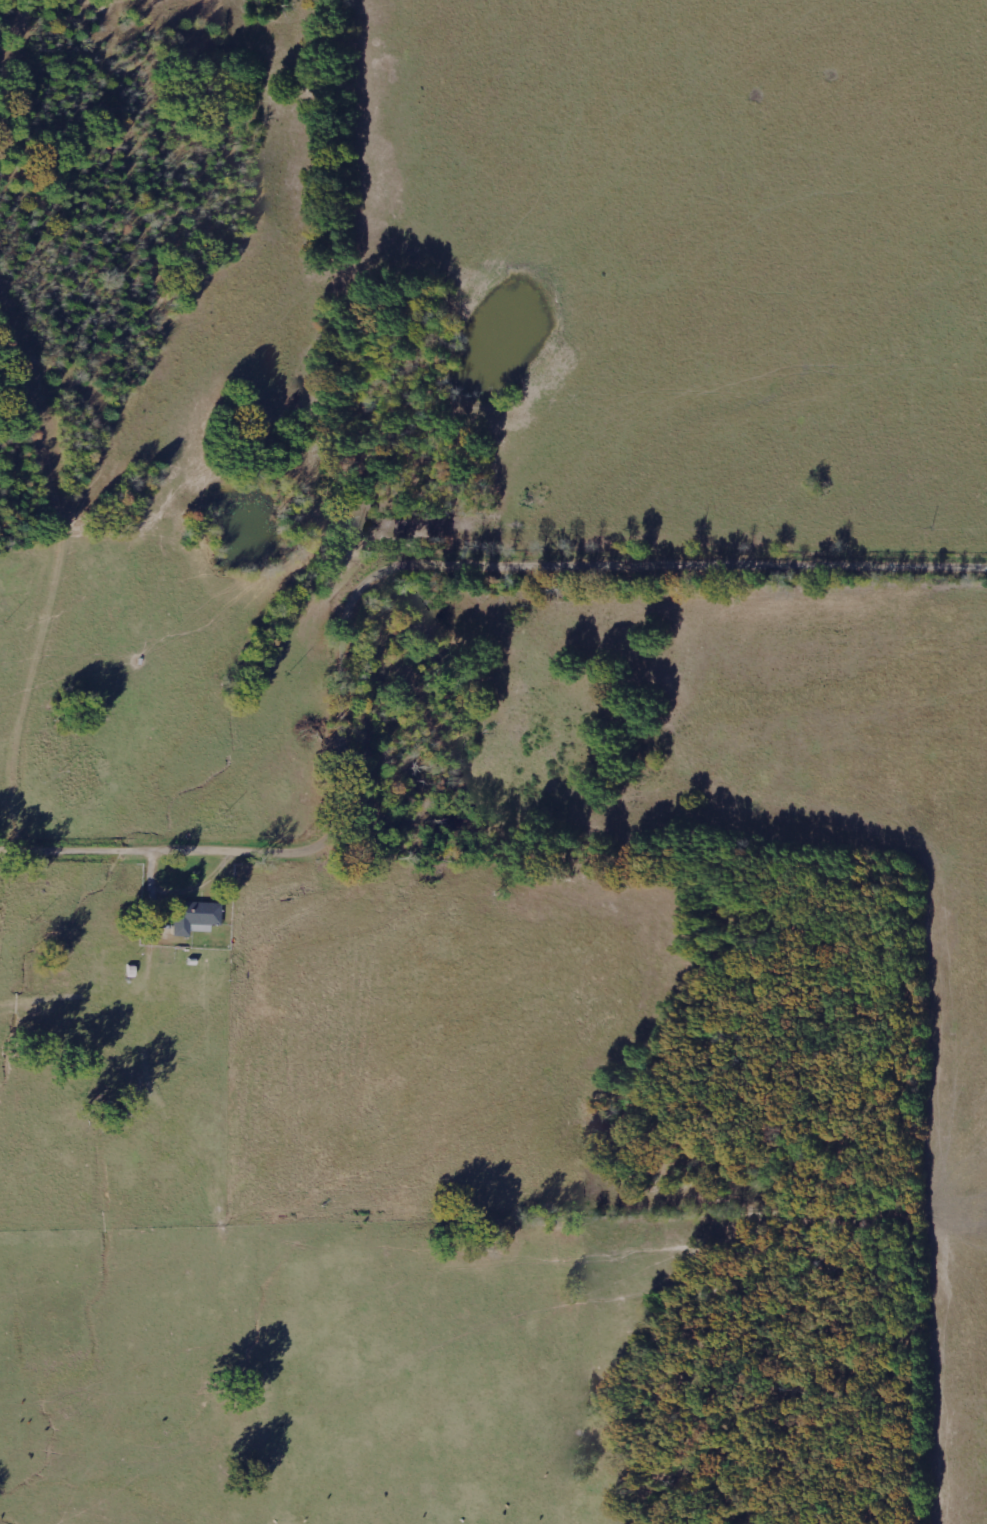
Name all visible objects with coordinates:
road: (380, 579)
building: (193, 918)

